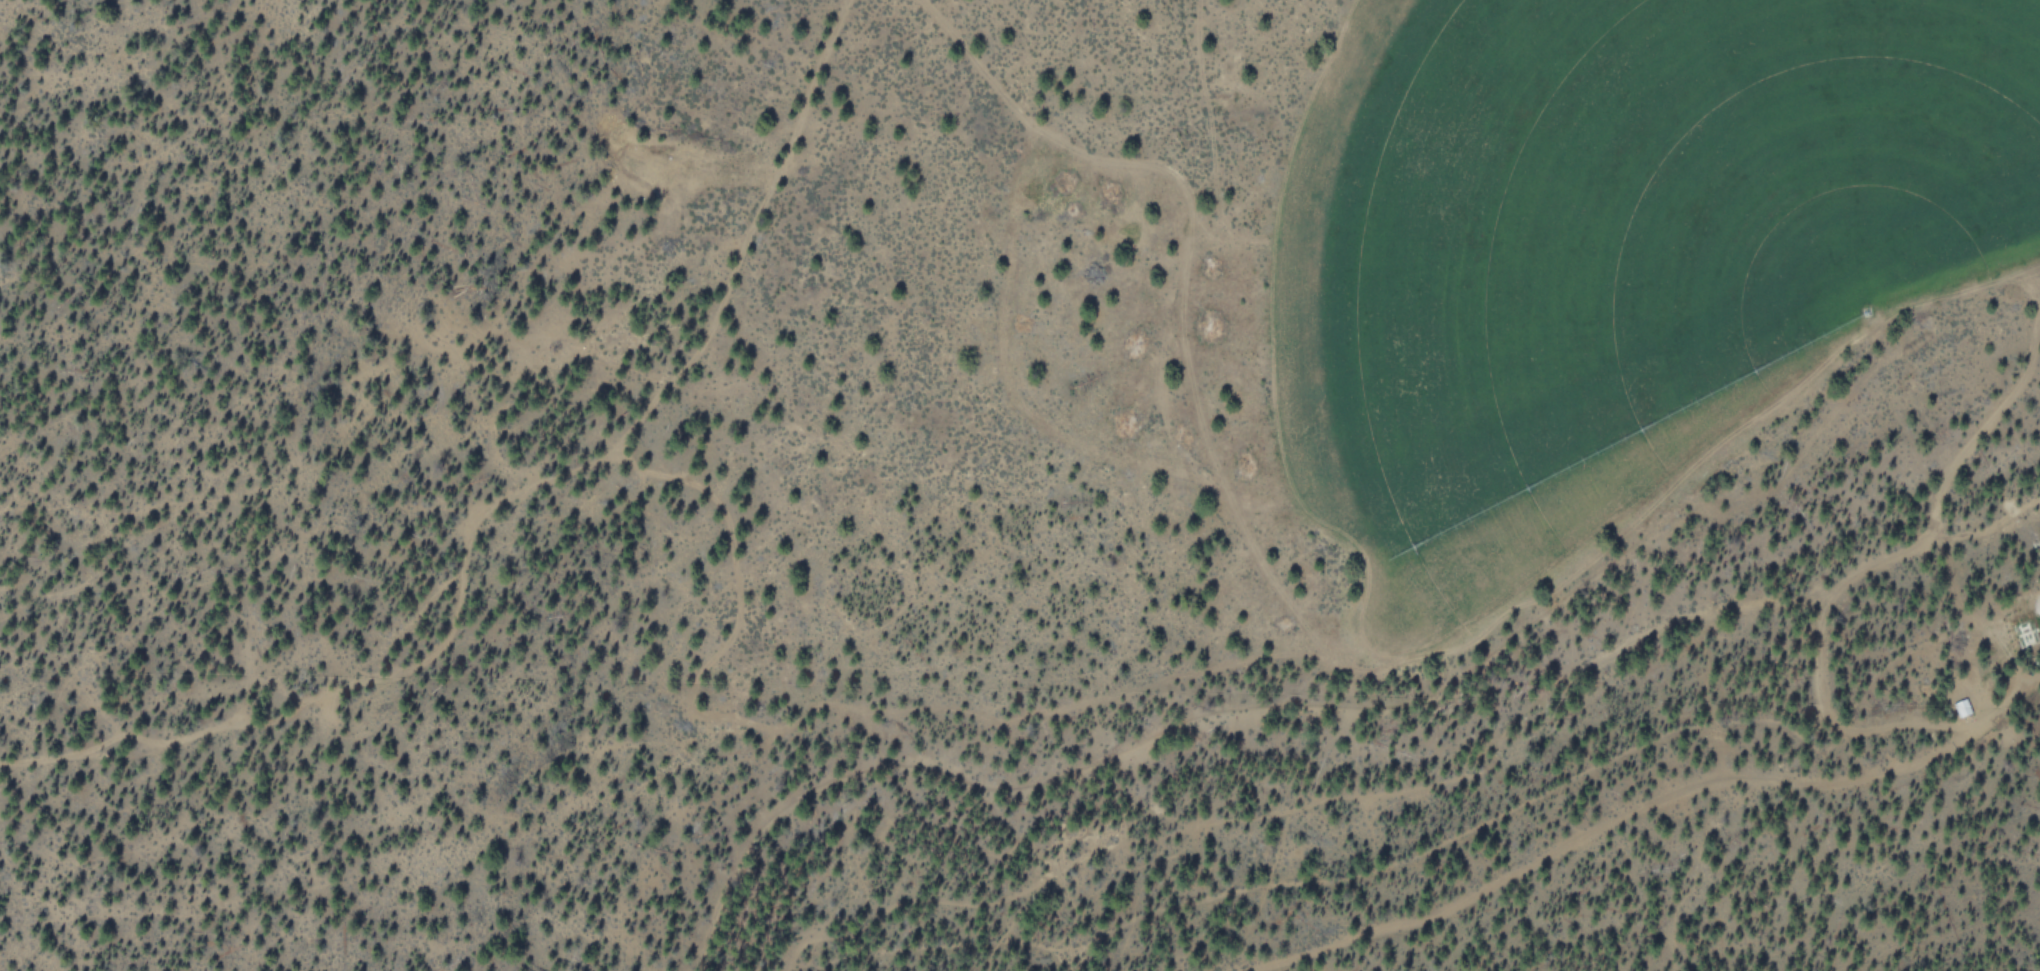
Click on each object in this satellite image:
crop: (1504, 250)
road: (1648, 806)

